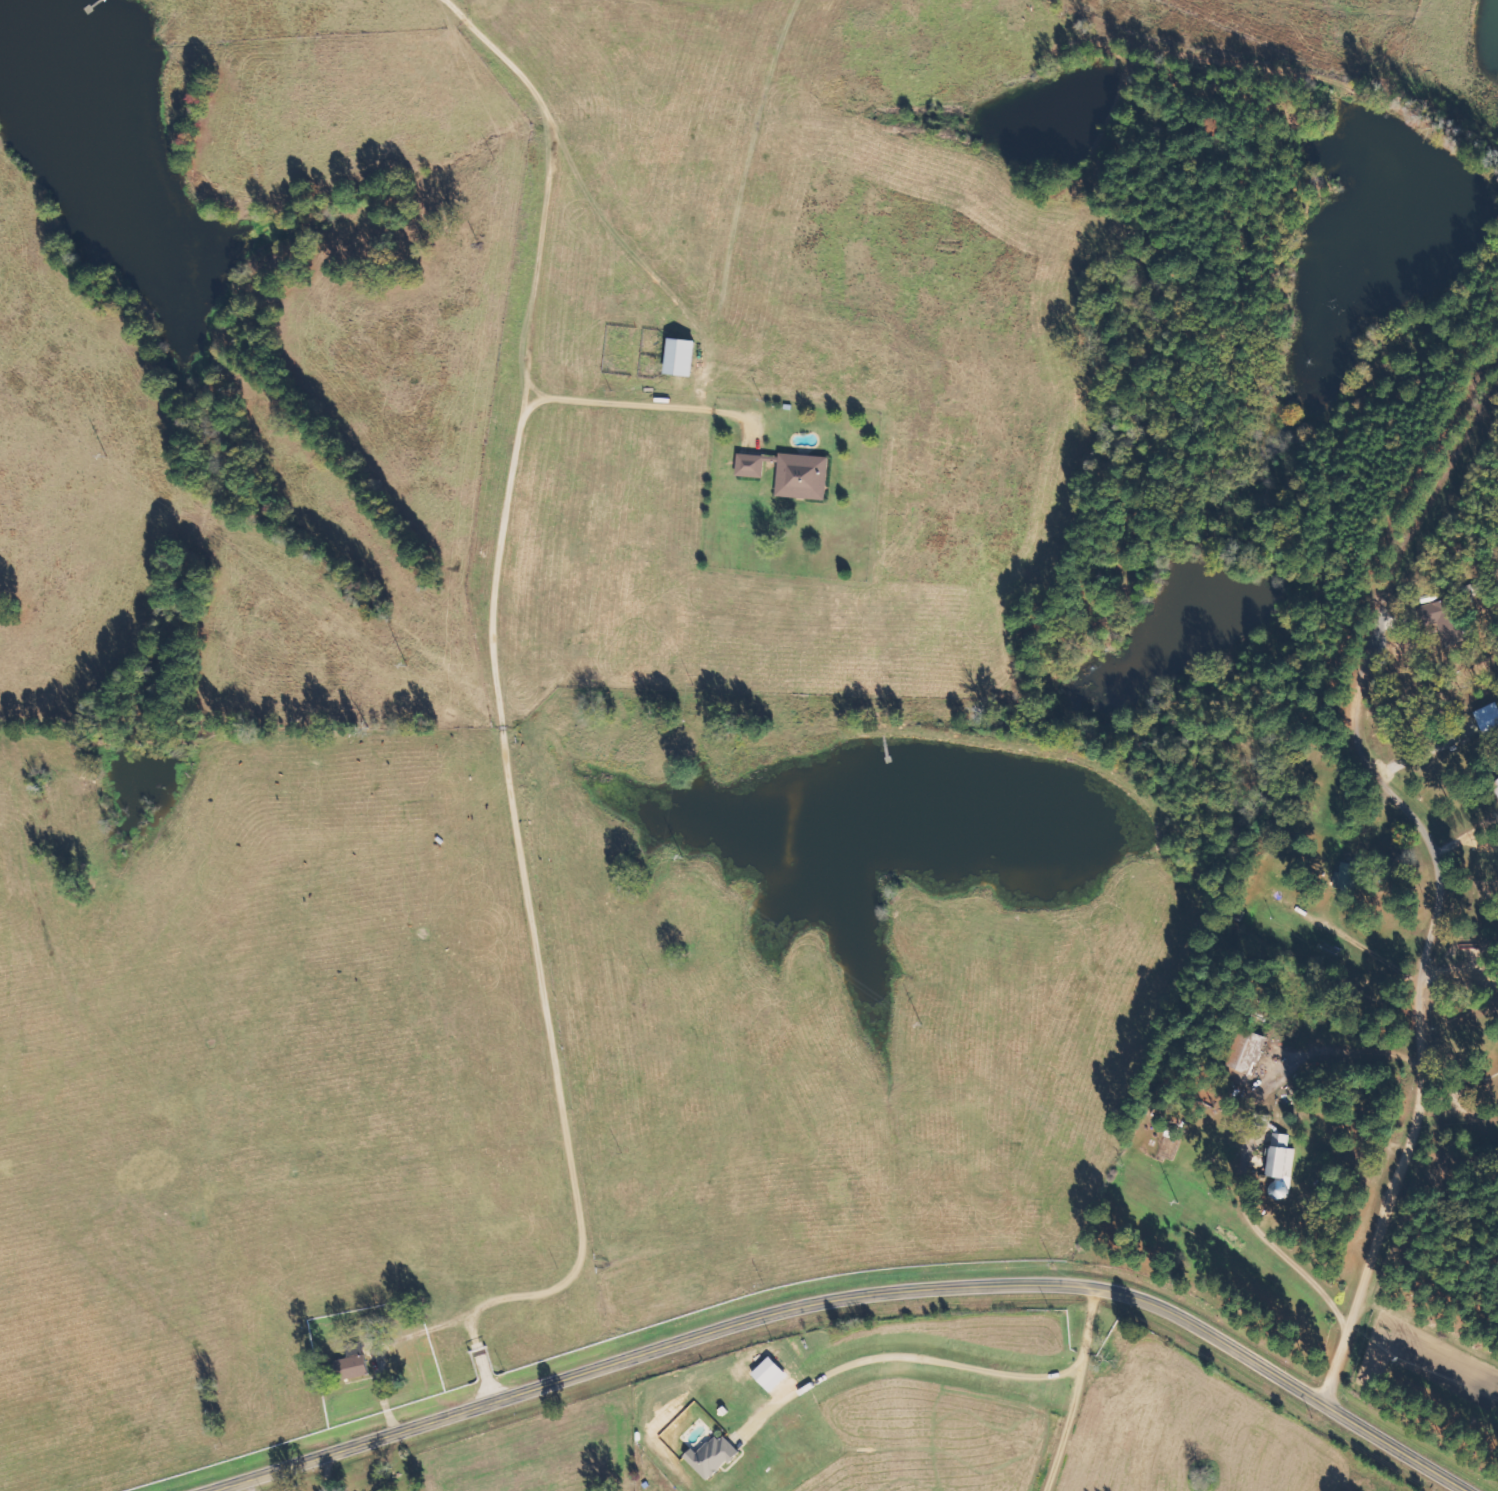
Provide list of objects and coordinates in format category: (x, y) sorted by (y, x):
building: (679, 355)
building: (750, 465)
building: (802, 475)
road: (1421, 533)
building: (1487, 716)
road: (1427, 1040)
building: (1247, 1051)
building: (1281, 1156)
road: (855, 1299)
building: (350, 1367)
building: (711, 1456)

